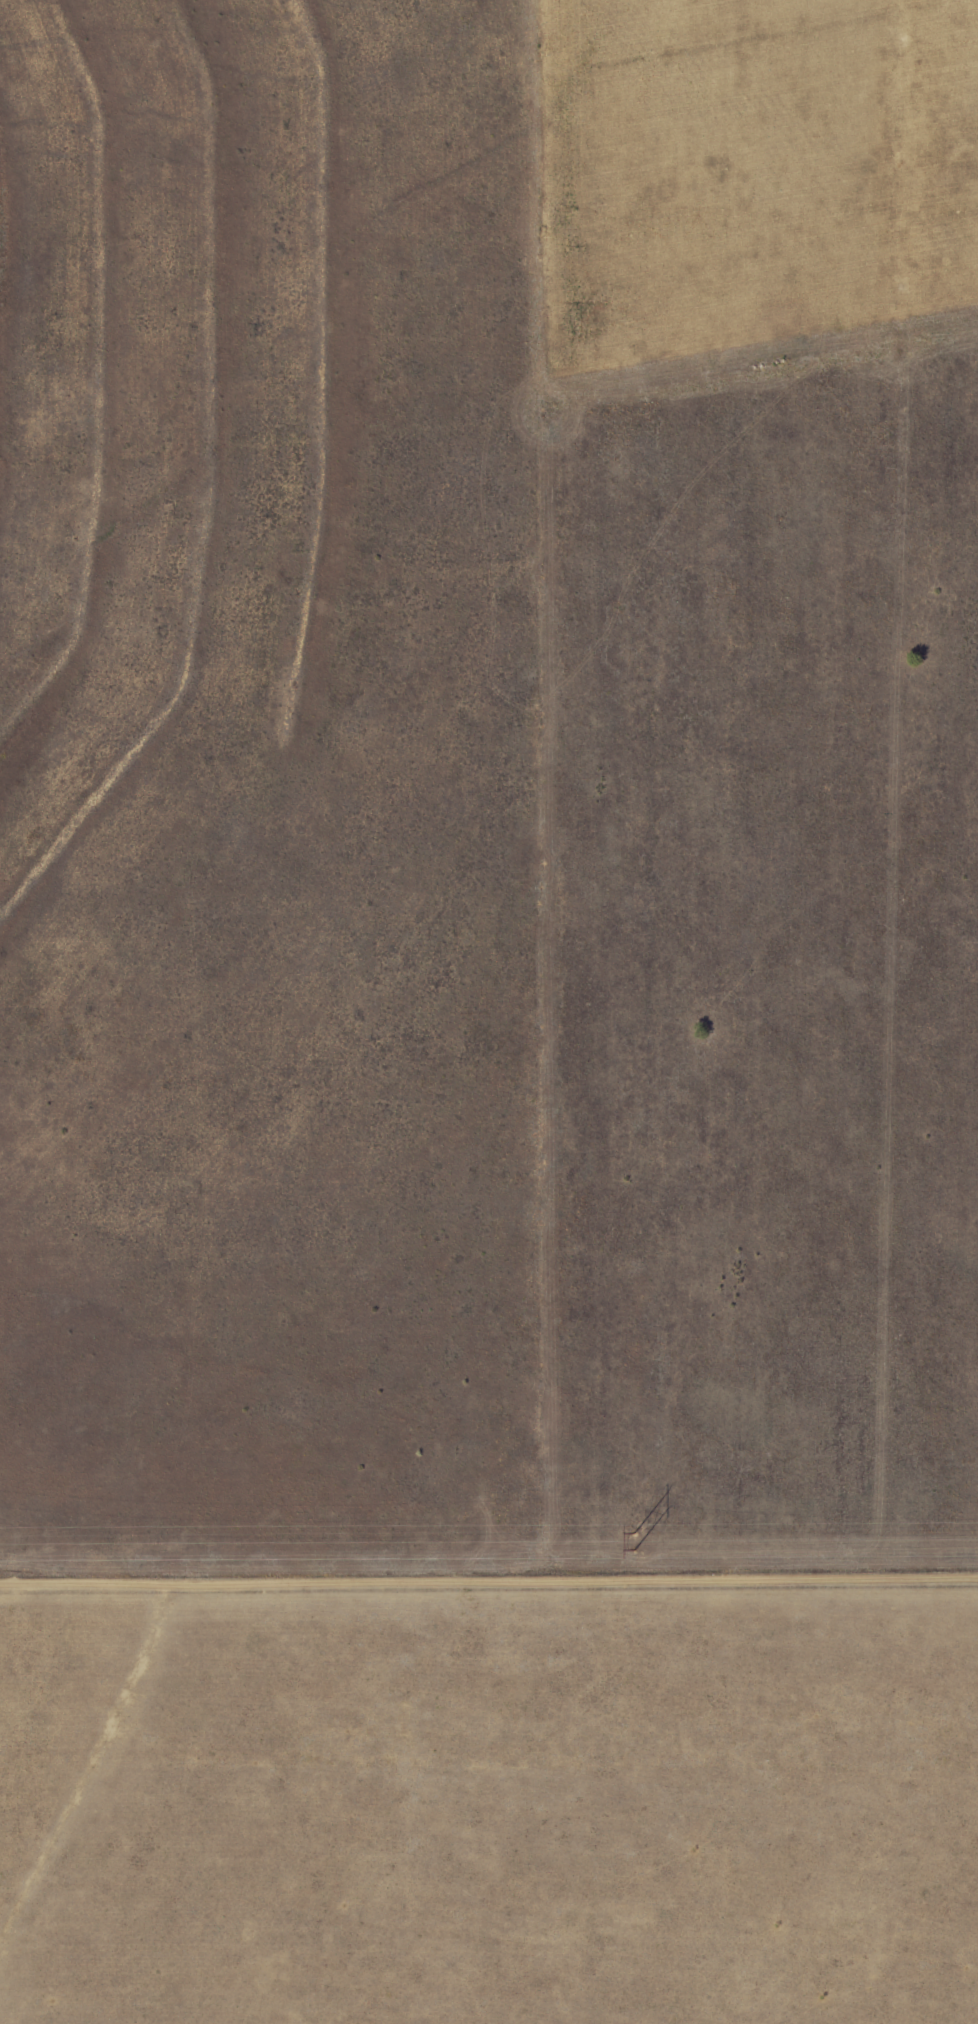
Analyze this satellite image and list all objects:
power tower: (633, 1543)
road: (489, 1561)

